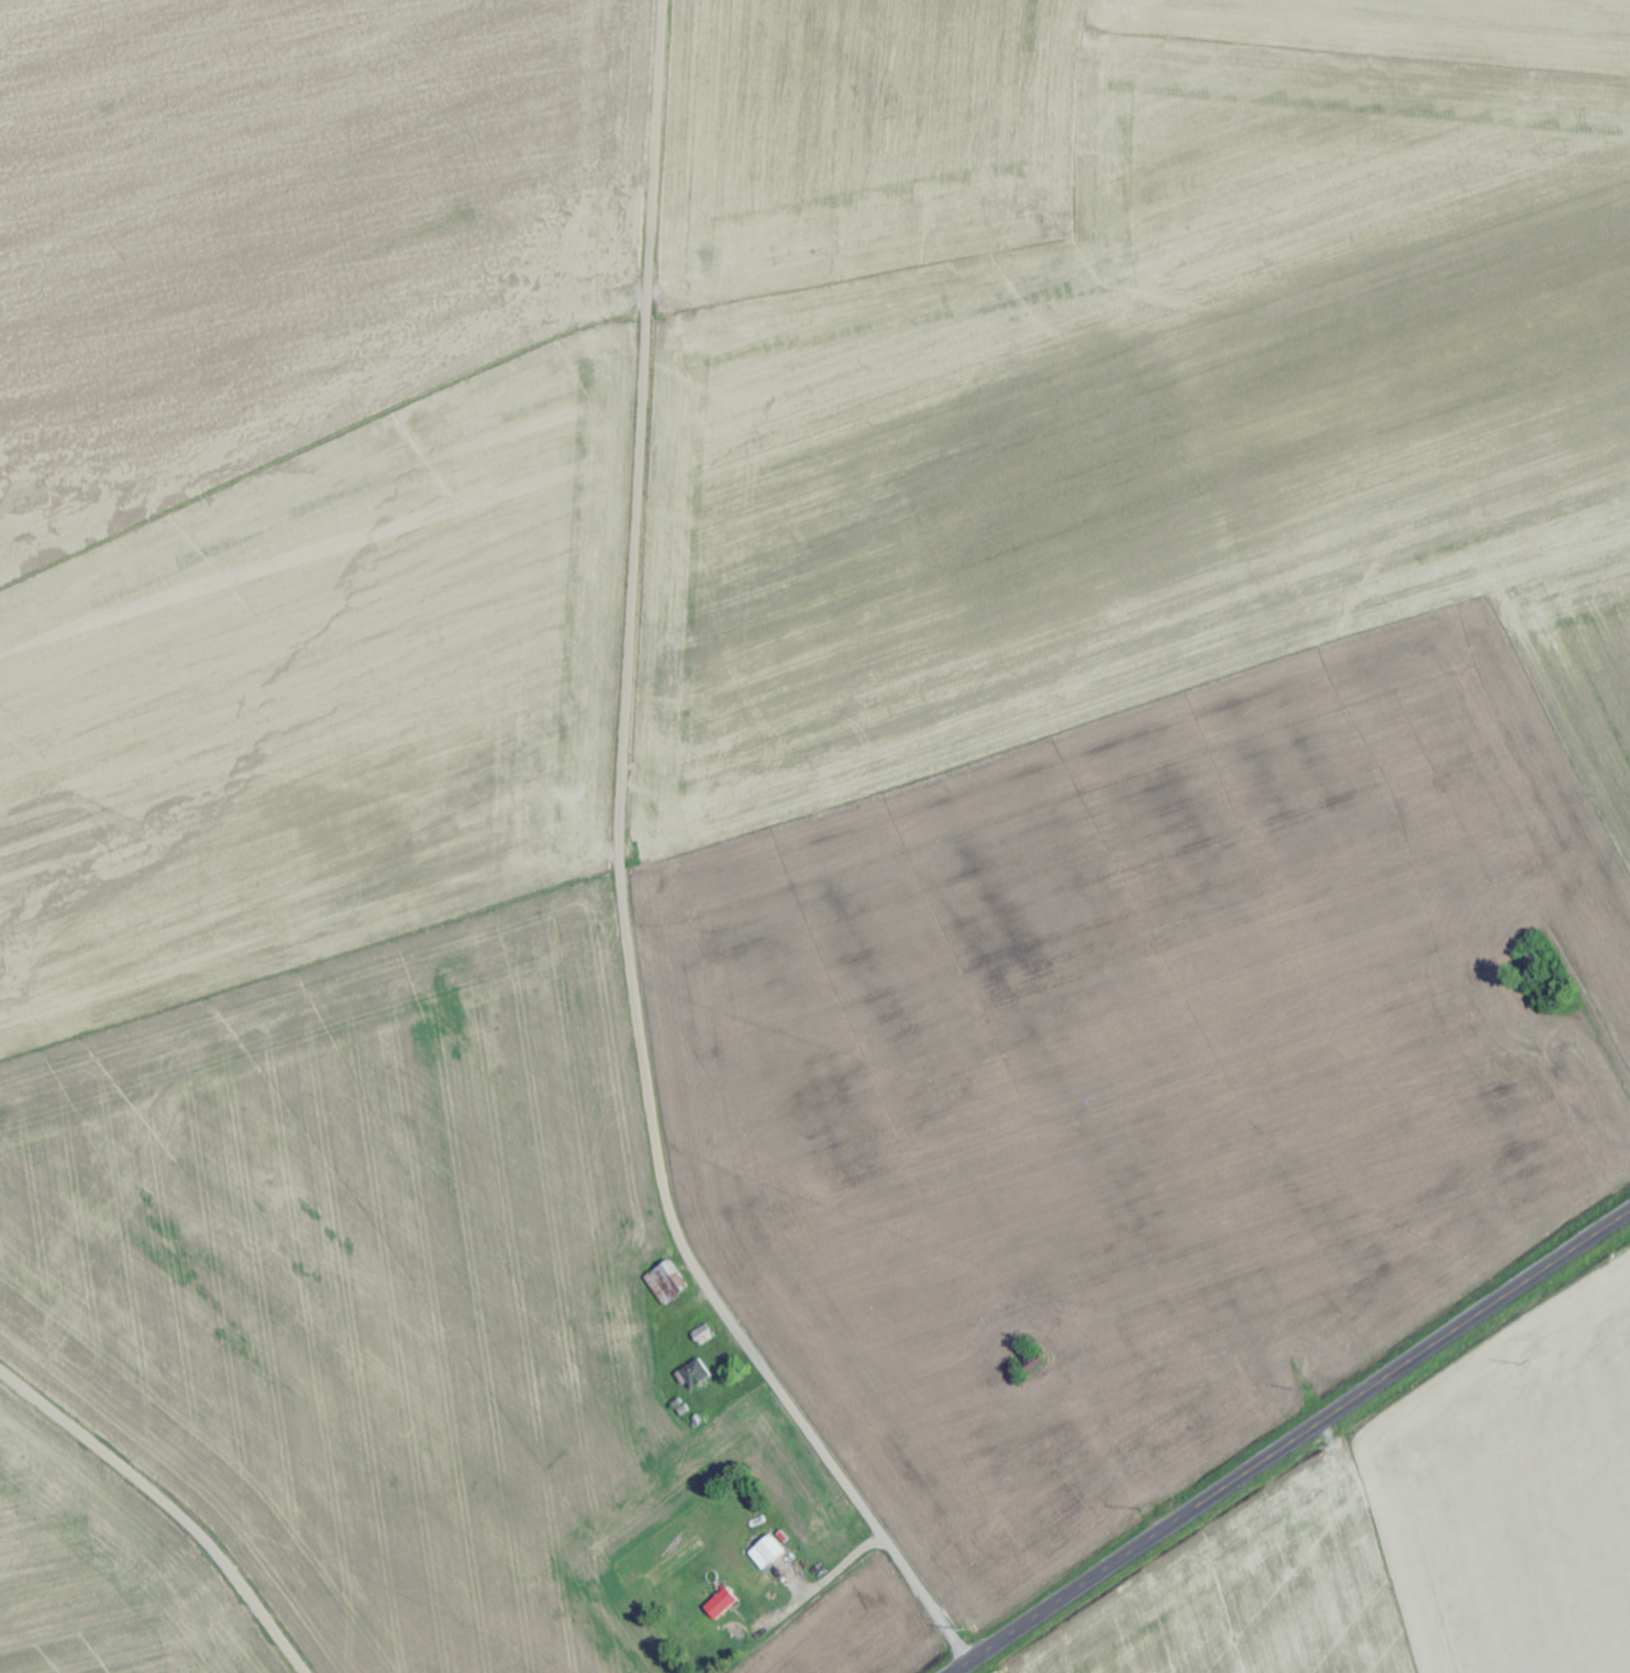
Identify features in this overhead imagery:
road: (622, 878)
building: (669, 1283)
building: (698, 1374)
road: (1291, 1442)
road: (166, 1507)
building: (769, 1552)
building: (723, 1604)

